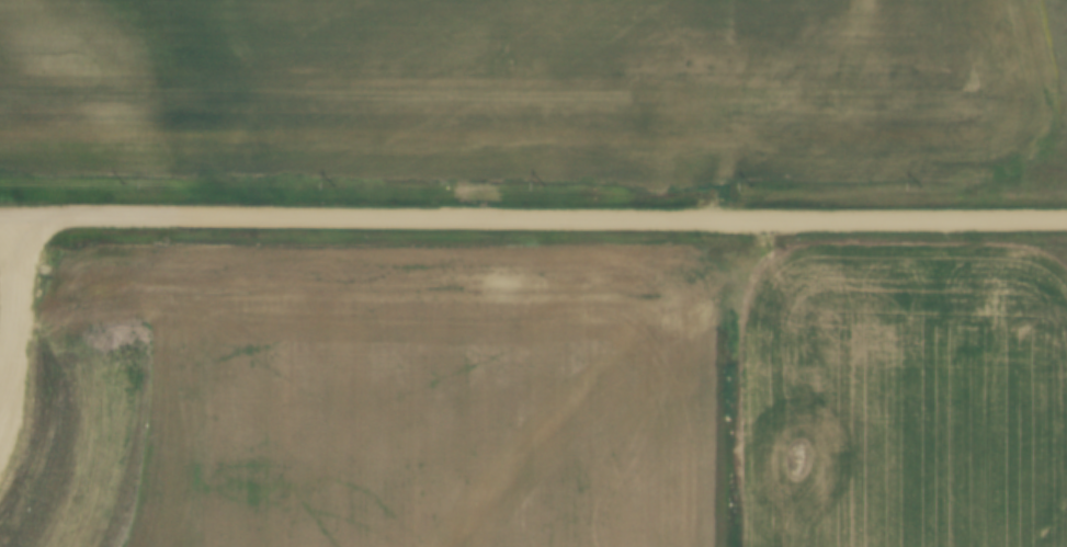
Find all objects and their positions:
road: (533, 221)

